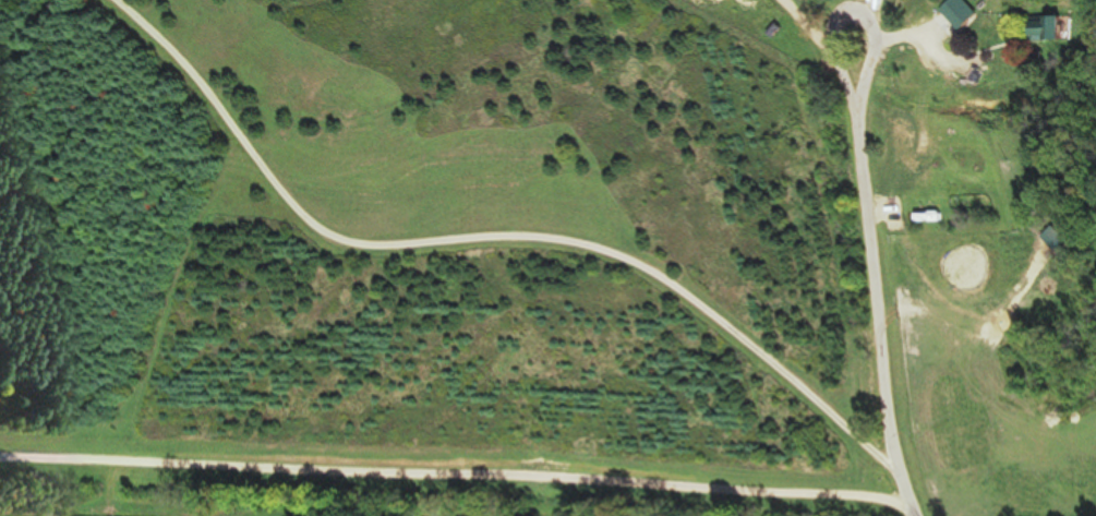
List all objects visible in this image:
building: (962, 15)
building: (1051, 32)
road: (491, 238)
road: (875, 310)

